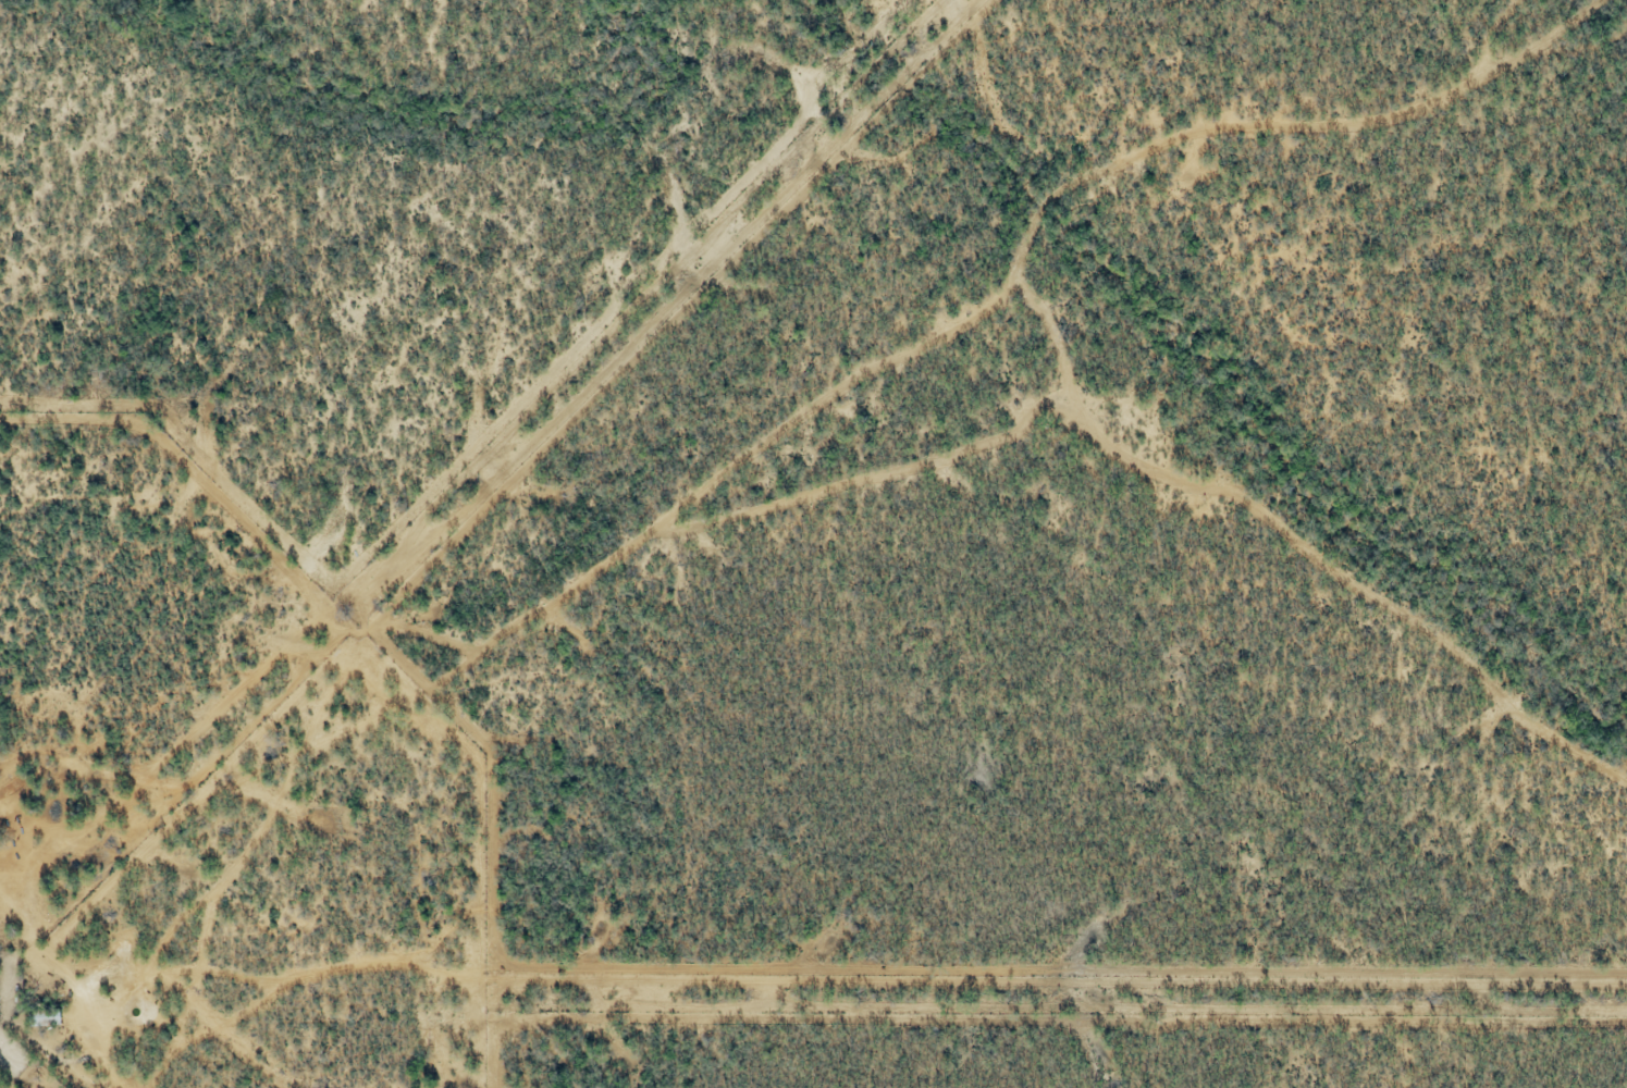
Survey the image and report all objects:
building: (45, 1016)

